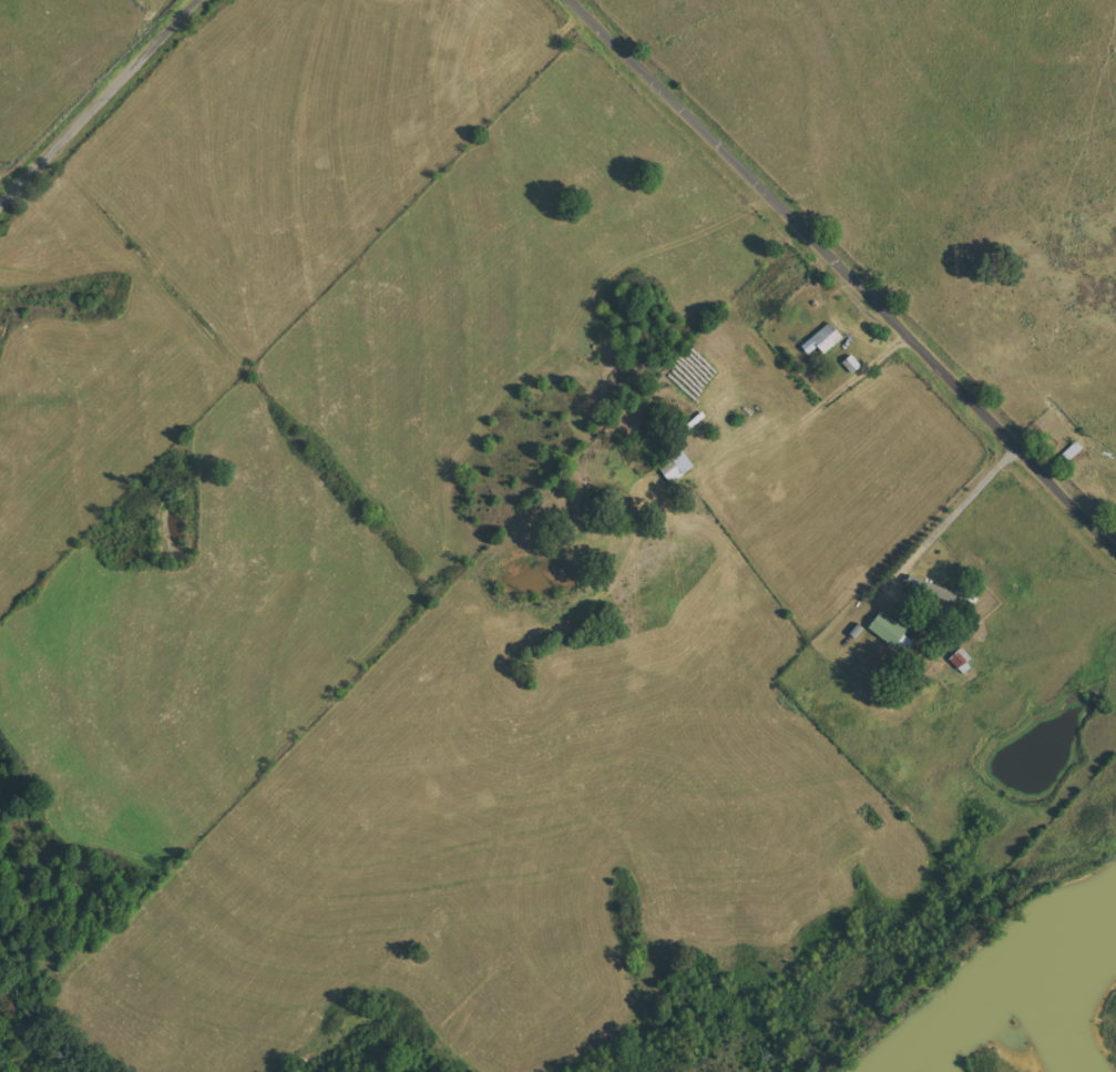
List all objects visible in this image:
road: (123, 114)
road: (846, 273)
building: (823, 340)
road: (946, 520)
building: (891, 632)

